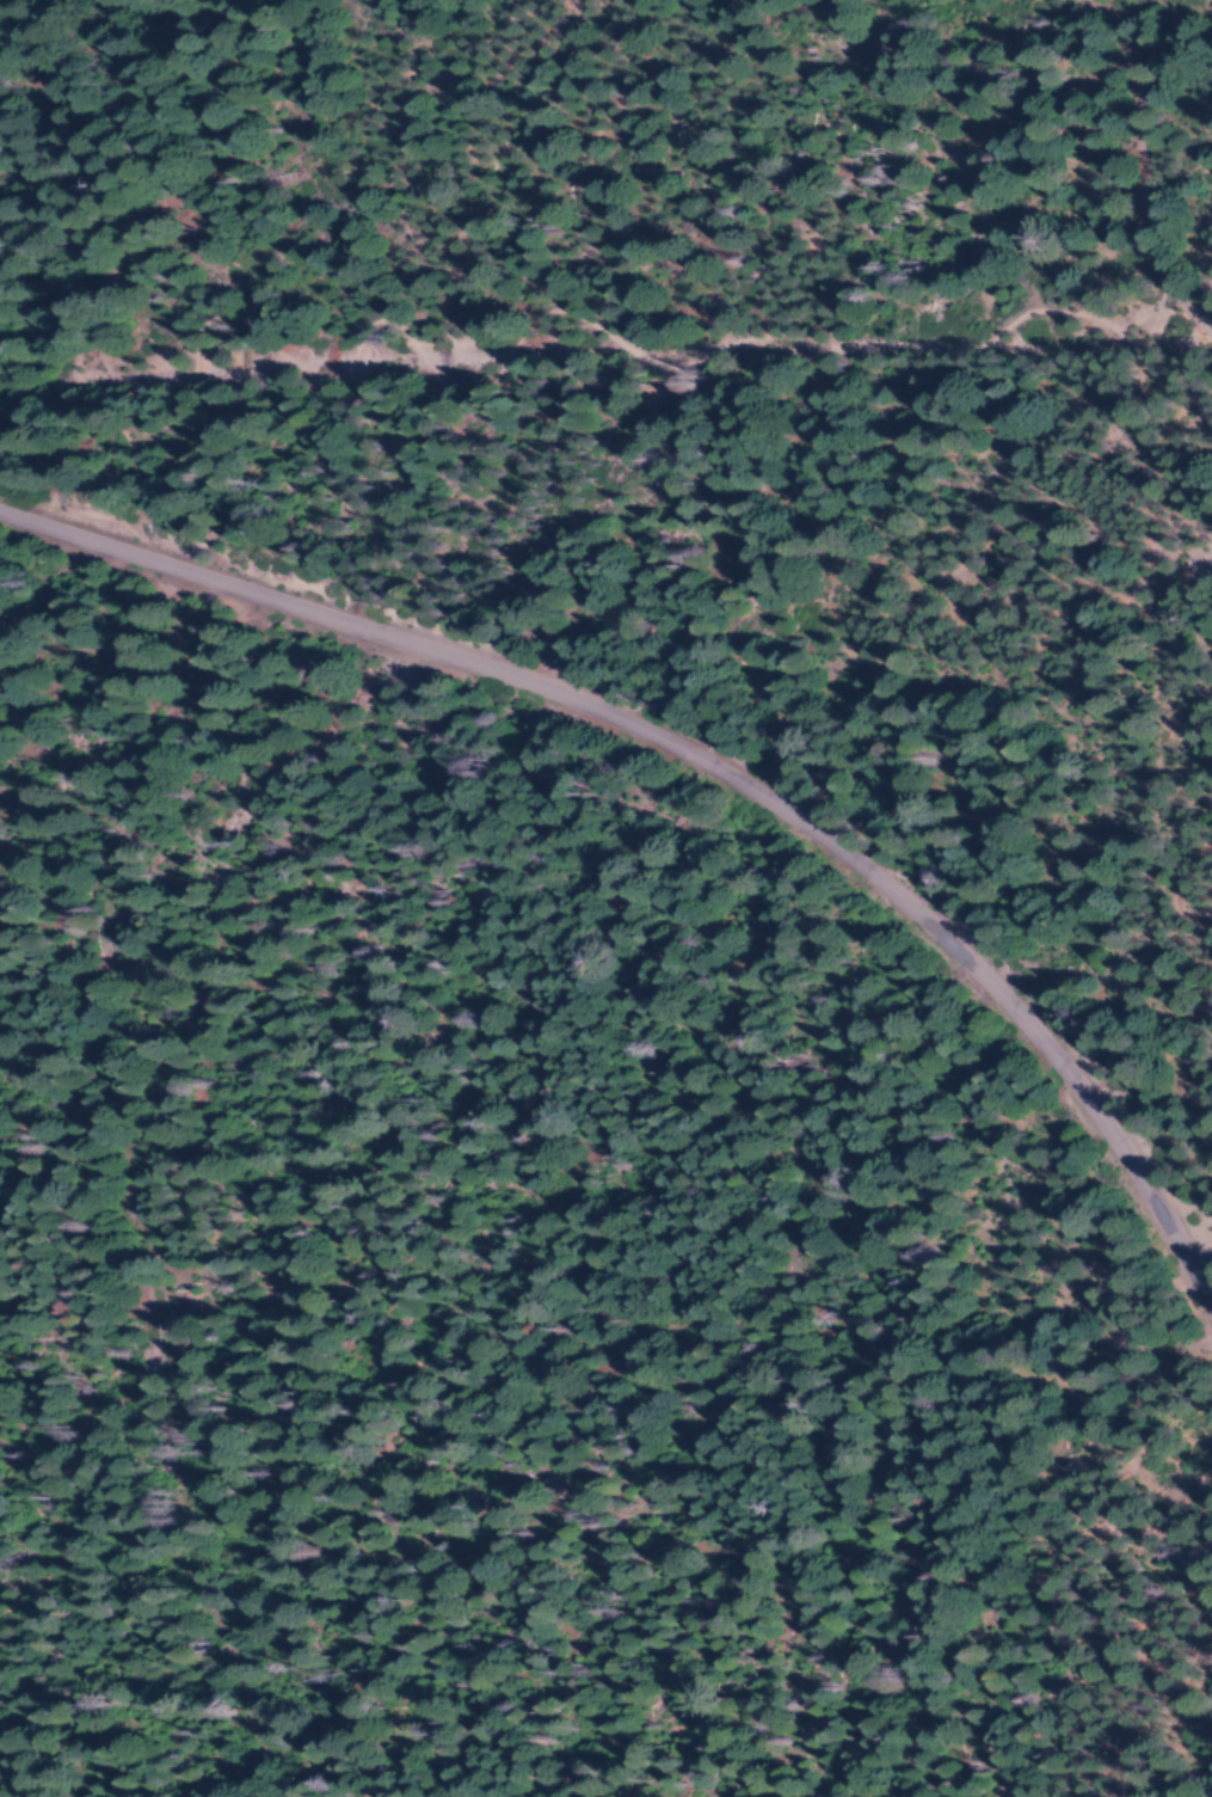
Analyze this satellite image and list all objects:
road: (1145, 167)
road: (605, 355)
road: (709, 761)
road: (113, 1057)

